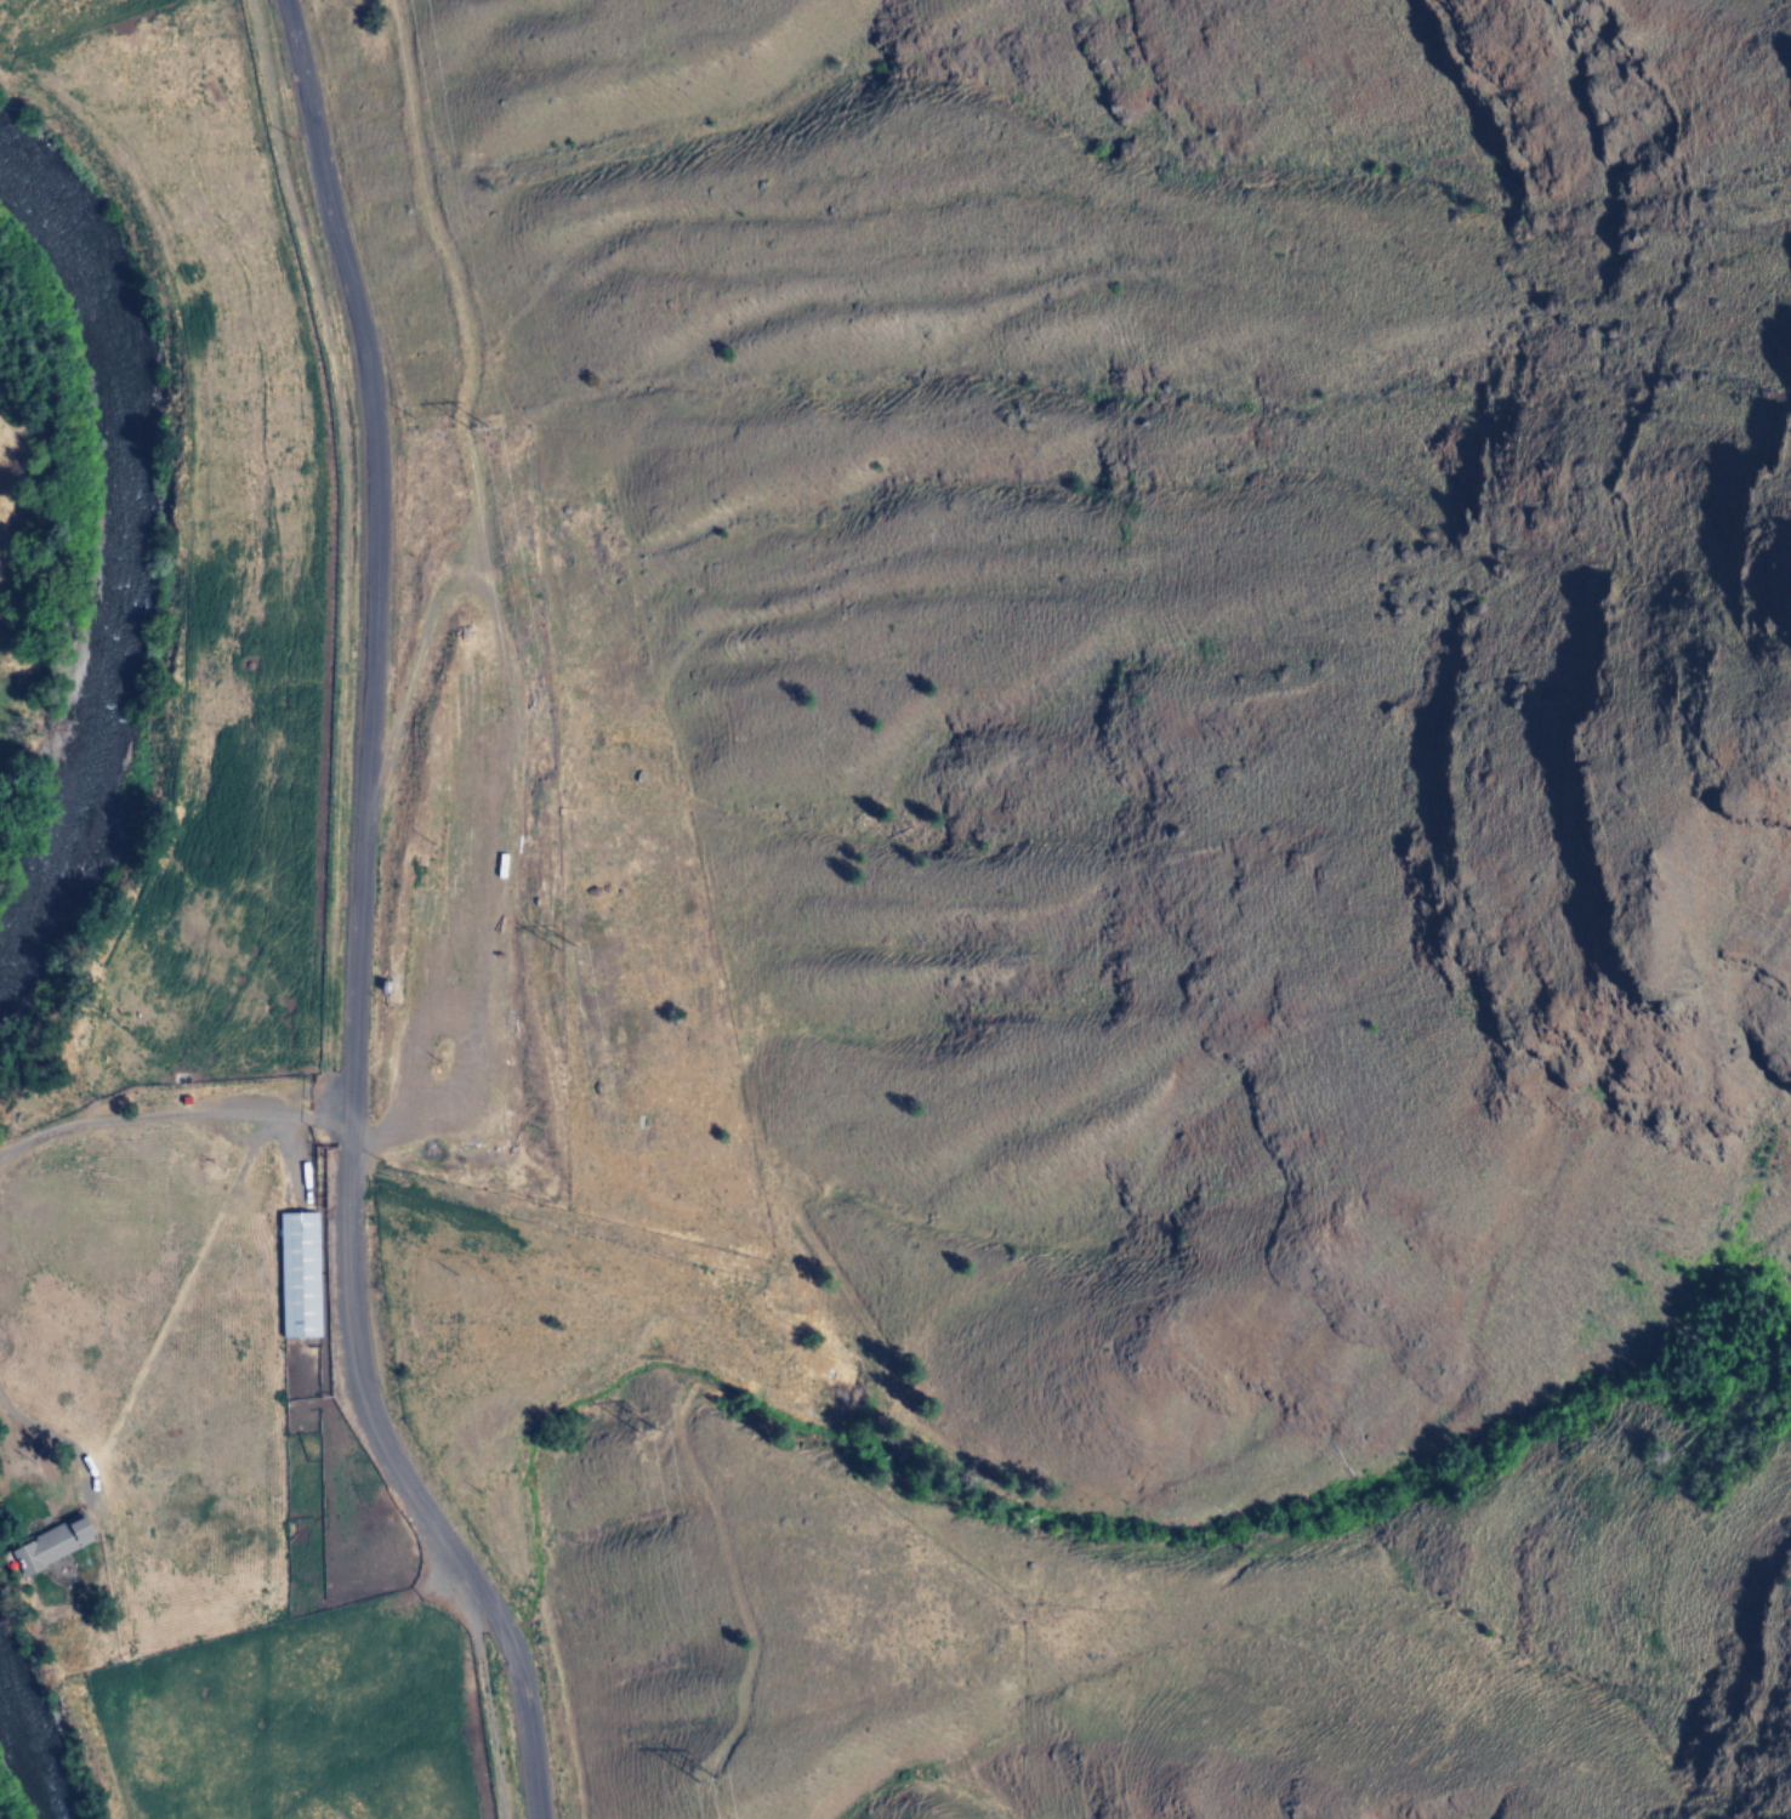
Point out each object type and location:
power tower: (470, 425)
river: (108, 579)
road: (351, 926)
power tower: (559, 949)
building: (300, 1275)
power tower: (646, 1431)
building: (52, 1545)
power tower: (703, 1780)

